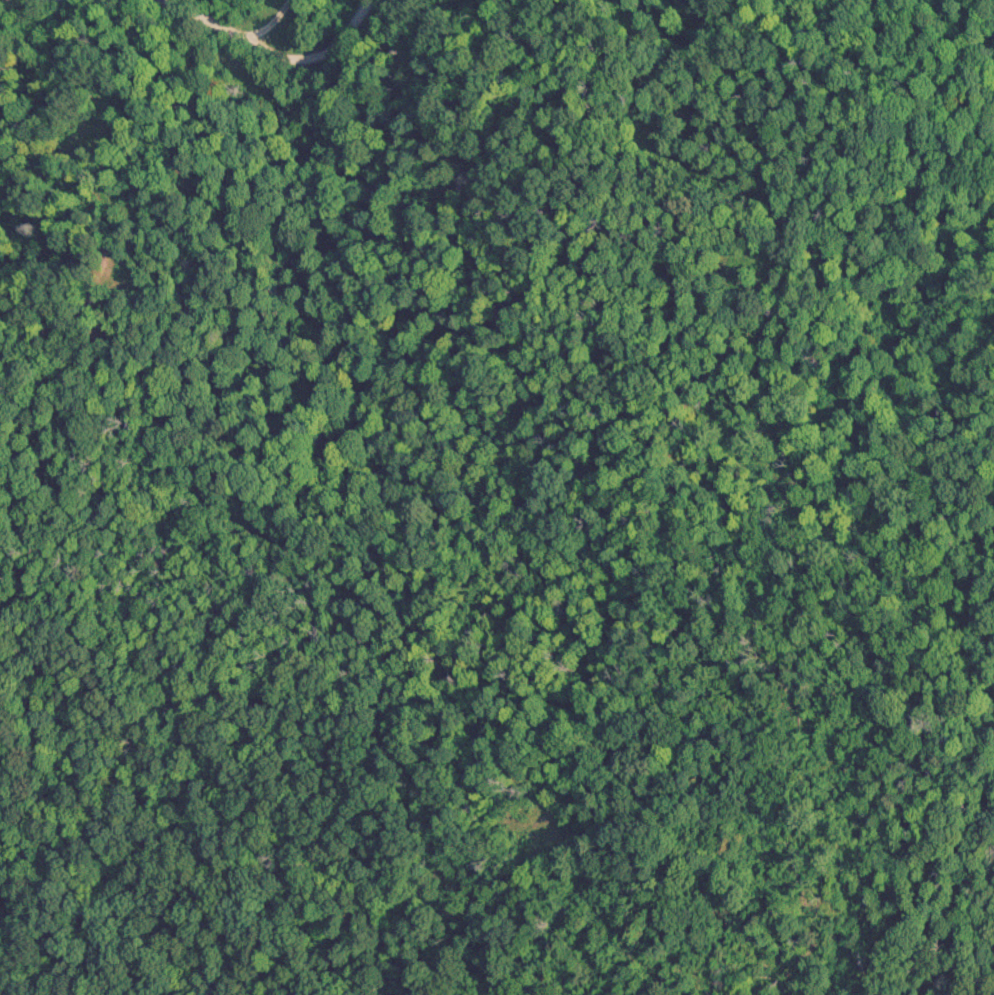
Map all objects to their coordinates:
road: (2, 2)
road: (254, 10)
road: (270, 33)

